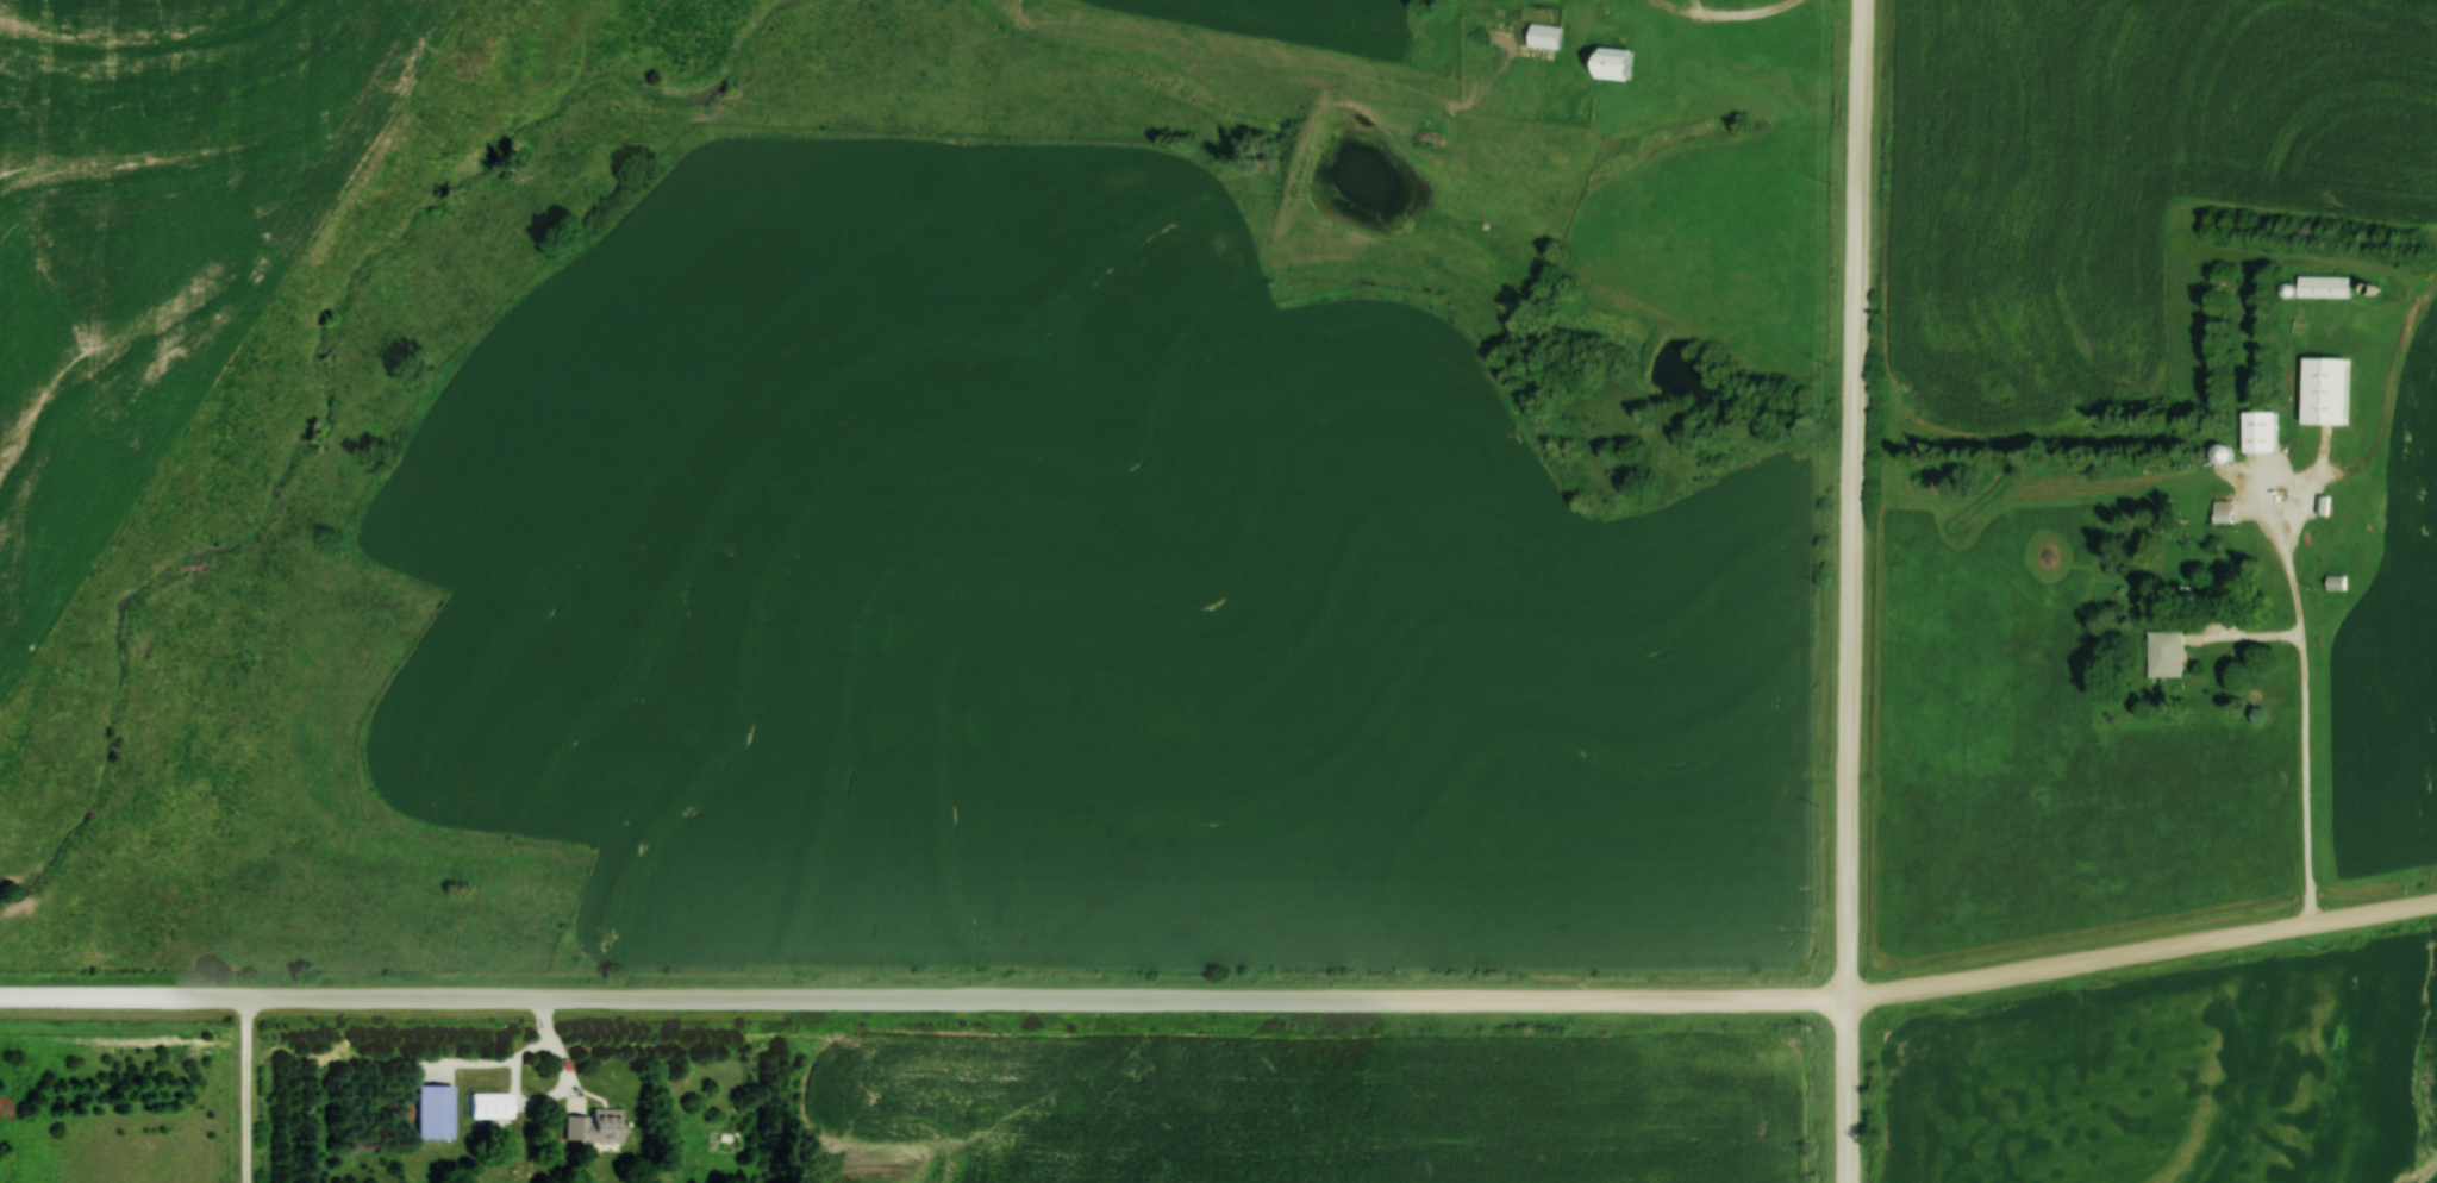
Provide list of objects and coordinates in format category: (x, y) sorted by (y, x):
building: (1541, 35)
building: (1606, 63)
building: (2320, 286)
building: (2320, 389)
building: (2255, 430)
building: (2219, 509)
building: (2333, 582)
road: (1850, 590)
building: (2162, 653)
road: (1223, 999)
building: (493, 1104)
building: (437, 1110)
building: (599, 1125)

